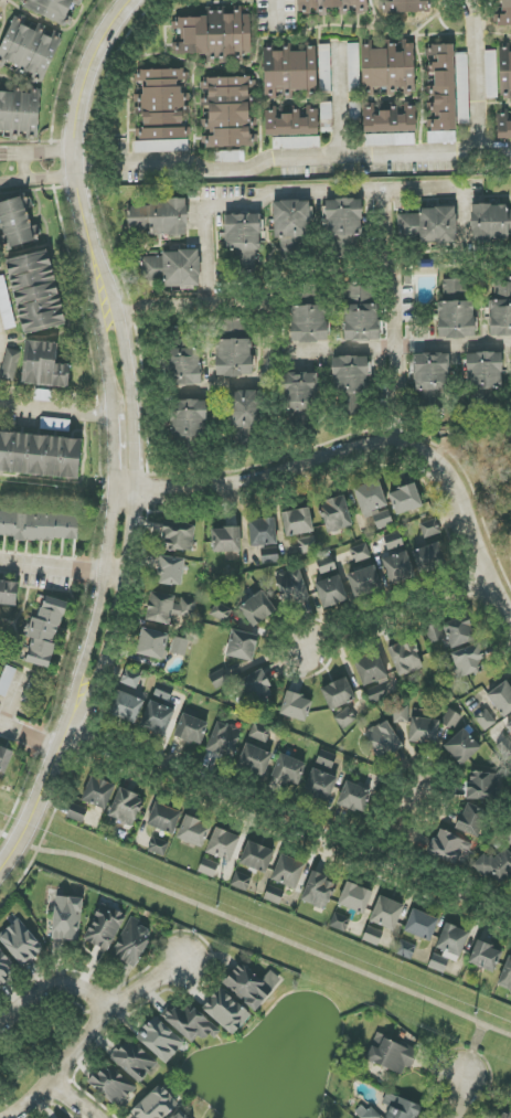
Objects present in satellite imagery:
road: (2, 2)
building: (418, 4)
building: (331, 6)
road: (279, 9)
building: (51, 10)
building: (505, 14)
building: (214, 35)
building: (29, 49)
building: (324, 68)
building: (388, 70)
building: (289, 72)
building: (490, 74)
building: (504, 74)
building: (462, 88)
building: (441, 93)
building: (9, 110)
building: (30, 111)
building: (160, 111)
building: (227, 111)
building: (326, 113)
building: (388, 119)
building: (290, 123)
building: (503, 125)
building: (390, 139)
building: (297, 142)
road: (355, 157)
road: (79, 167)
road: (24, 170)
road: (249, 209)
building: (160, 217)
building: (291, 219)
building: (343, 221)
building: (490, 221)
building: (17, 223)
road: (388, 225)
building: (437, 225)
building: (407, 226)
building: (243, 241)
building: (170, 268)
building: (35, 291)
building: (6, 306)
building: (456, 309)
building: (501, 309)
building: (361, 315)
building: (309, 323)
building: (232, 328)
road: (454, 345)
road: (344, 349)
road: (396, 350)
building: (182, 358)
building: (234, 358)
building: (35, 365)
building: (483, 372)
building: (350, 374)
building: (430, 379)
building: (43, 395)
building: (298, 398)
road: (65, 411)
building: (243, 417)
building: (188, 418)
road: (130, 437)
road: (365, 447)
building: (40, 455)
building: (370, 497)
building: (405, 499)
building: (334, 514)
building: (382, 519)
building: (297, 522)
building: (40, 526)
building: (430, 529)
building: (263, 532)
building: (178, 536)
building: (225, 540)
building: (307, 544)
building: (359, 553)
building: (433, 558)
building: (398, 566)
road: (60, 568)
building: (170, 571)
building: (364, 581)
building: (291, 587)
building: (330, 587)
building: (8, 593)
building: (169, 607)
building: (257, 608)
road: (396, 608)
building: (221, 611)
building: (44, 631)
building: (453, 632)
building: (152, 643)
building: (242, 646)
building: (179, 647)
building: (404, 658)
building: (467, 661)
building: (371, 669)
building: (130, 679)
building: (7, 680)
building: (255, 688)
building: (375, 691)
building: (163, 692)
building: (338, 693)
building: (501, 699)
road: (13, 702)
building: (126, 706)
building: (296, 706)
building: (401, 714)
building: (158, 718)
building: (485, 720)
building: (508, 725)
building: (191, 730)
building: (424, 731)
building: (259, 732)
road: (29, 738)
building: (224, 739)
building: (383, 739)
building: (461, 747)
building: (6, 757)
building: (255, 759)
building: (326, 759)
building: (288, 769)
building: (319, 785)
building: (481, 787)
building: (96, 791)
building: (354, 797)
building: (126, 808)
building: (76, 812)
building: (164, 818)
road: (289, 818)
building: (471, 819)
road: (394, 820)
building: (193, 831)
building: (223, 844)
building: (159, 847)
building: (448, 847)
building: (257, 856)
building: (496, 865)
building: (207, 867)
building: (288, 872)
building: (241, 881)
building: (319, 892)
building: (274, 894)
building: (354, 897)
building: (386, 913)
building: (66, 918)
building: (339, 922)
building: (422, 925)
building: (104, 927)
road: (256, 930)
building: (372, 936)
building: (453, 939)
building: (20, 943)
building: (131, 943)
building: (406, 949)
building: (485, 957)
building: (438, 963)
building: (4, 969)
building: (505, 976)
road: (50, 986)
road: (146, 986)
building: (251, 986)
building: (225, 1011)
building: (191, 1023)
building: (160, 1040)
road: (472, 1052)
building: (391, 1055)
building: (134, 1061)
road: (63, 1066)
building: (111, 1085)
road: (460, 1097)
road: (72, 1100)
building: (155, 1105)
building: (401, 1107)
building: (365, 1112)
building: (180, 1115)
building: (505, 1115)

